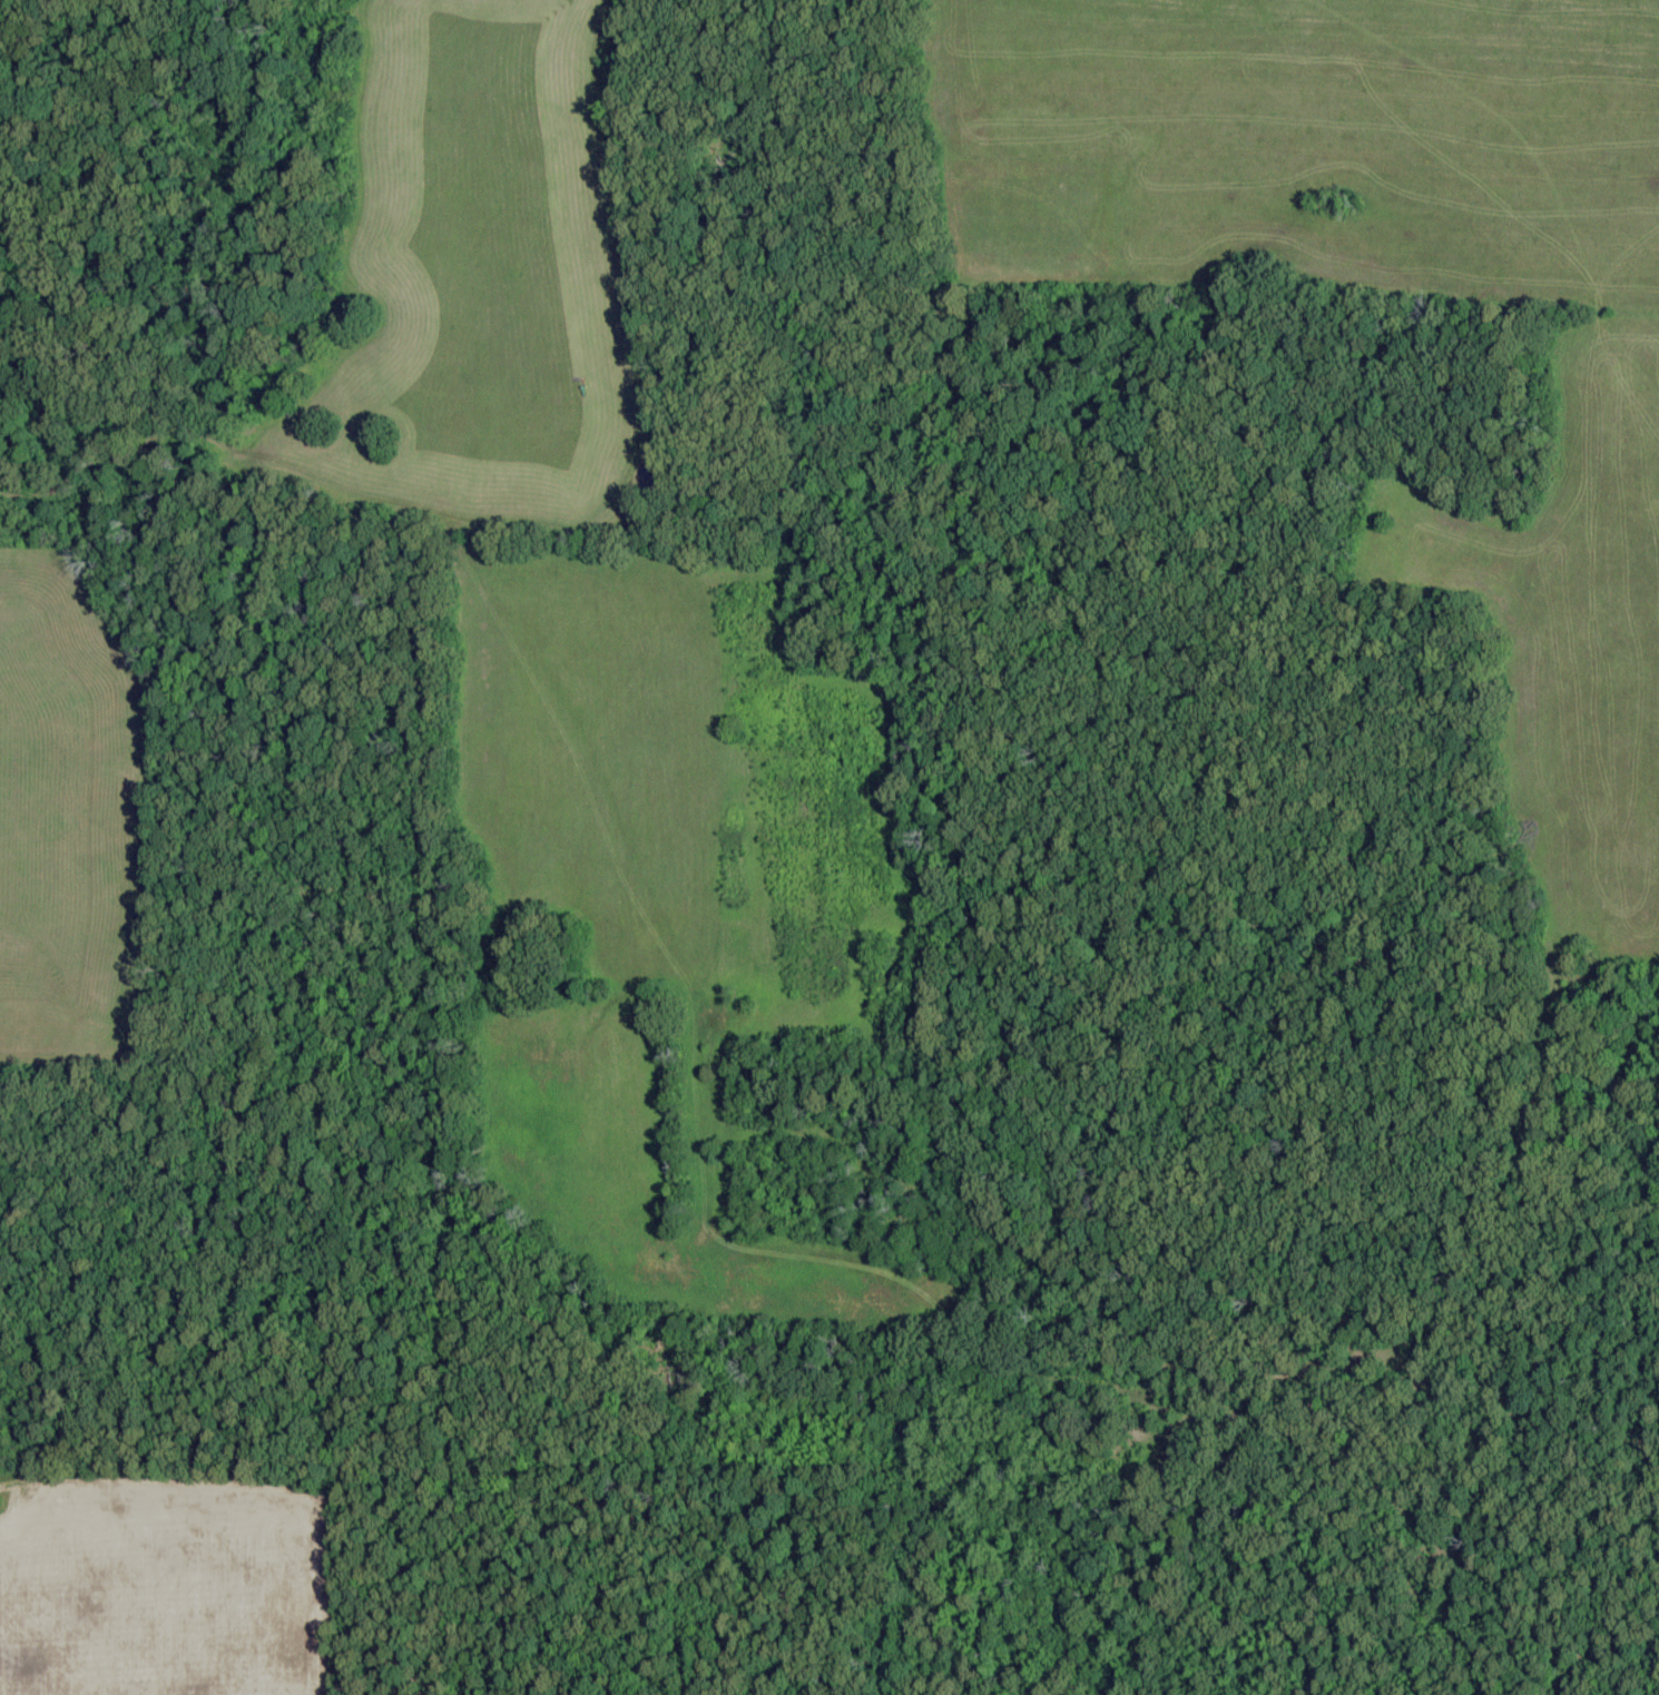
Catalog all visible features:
road: (602, 1411)

